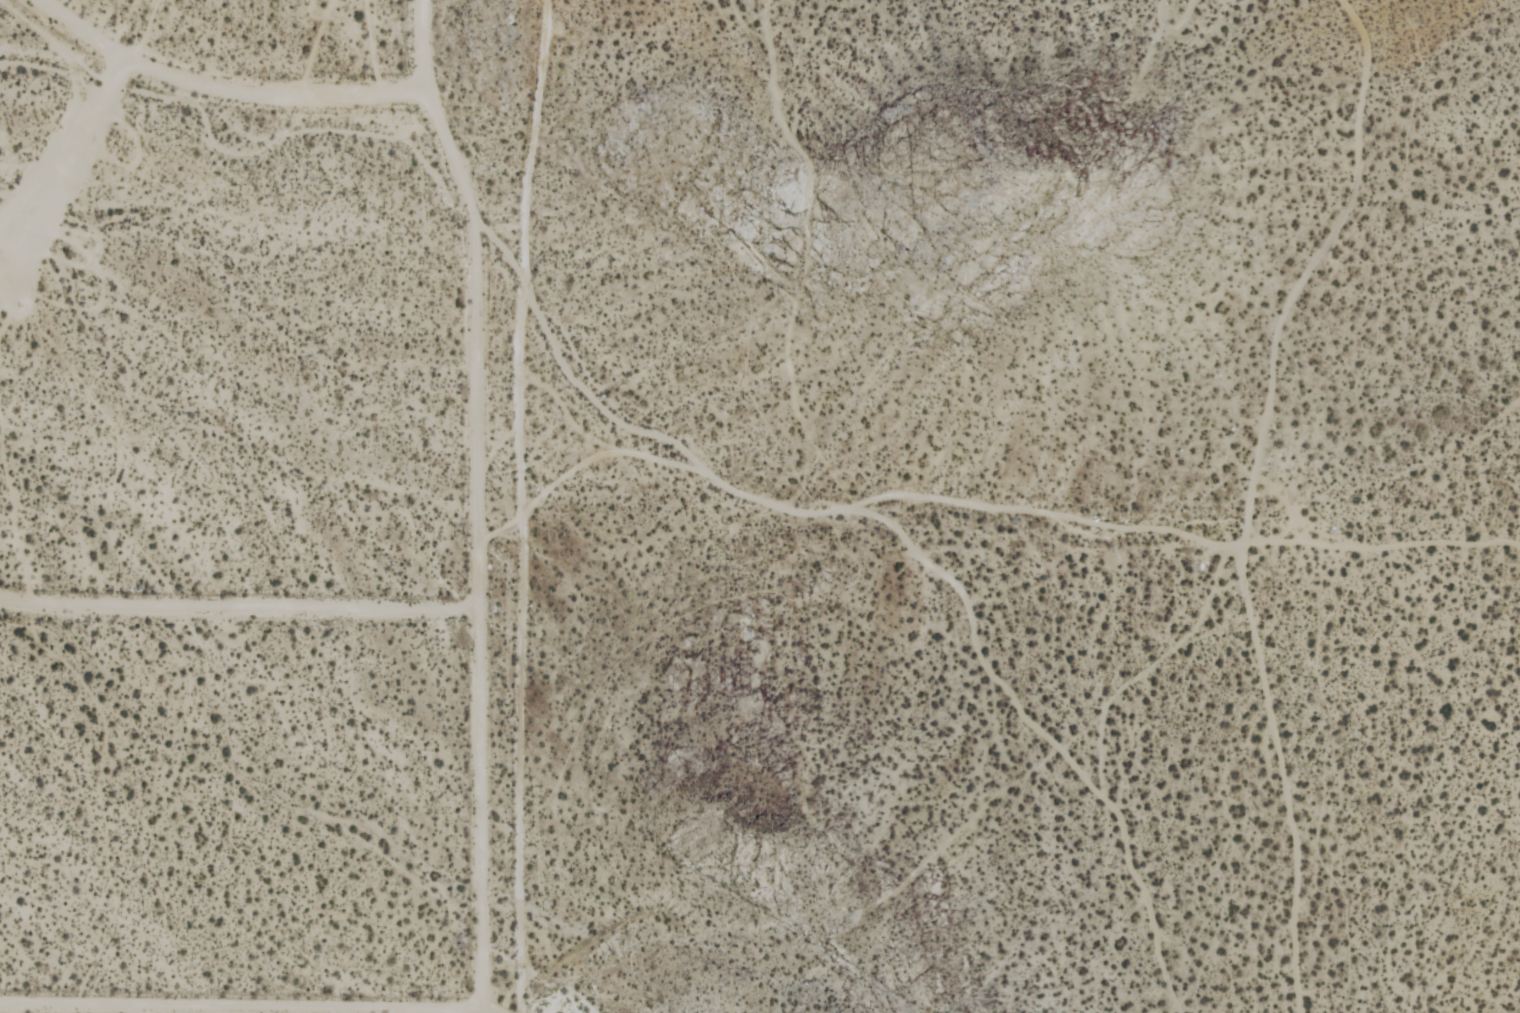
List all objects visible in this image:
road: (221, 88)
road: (475, 501)
road: (618, 508)
road: (238, 609)
quarry: (767, 928)
road: (239, 1009)

